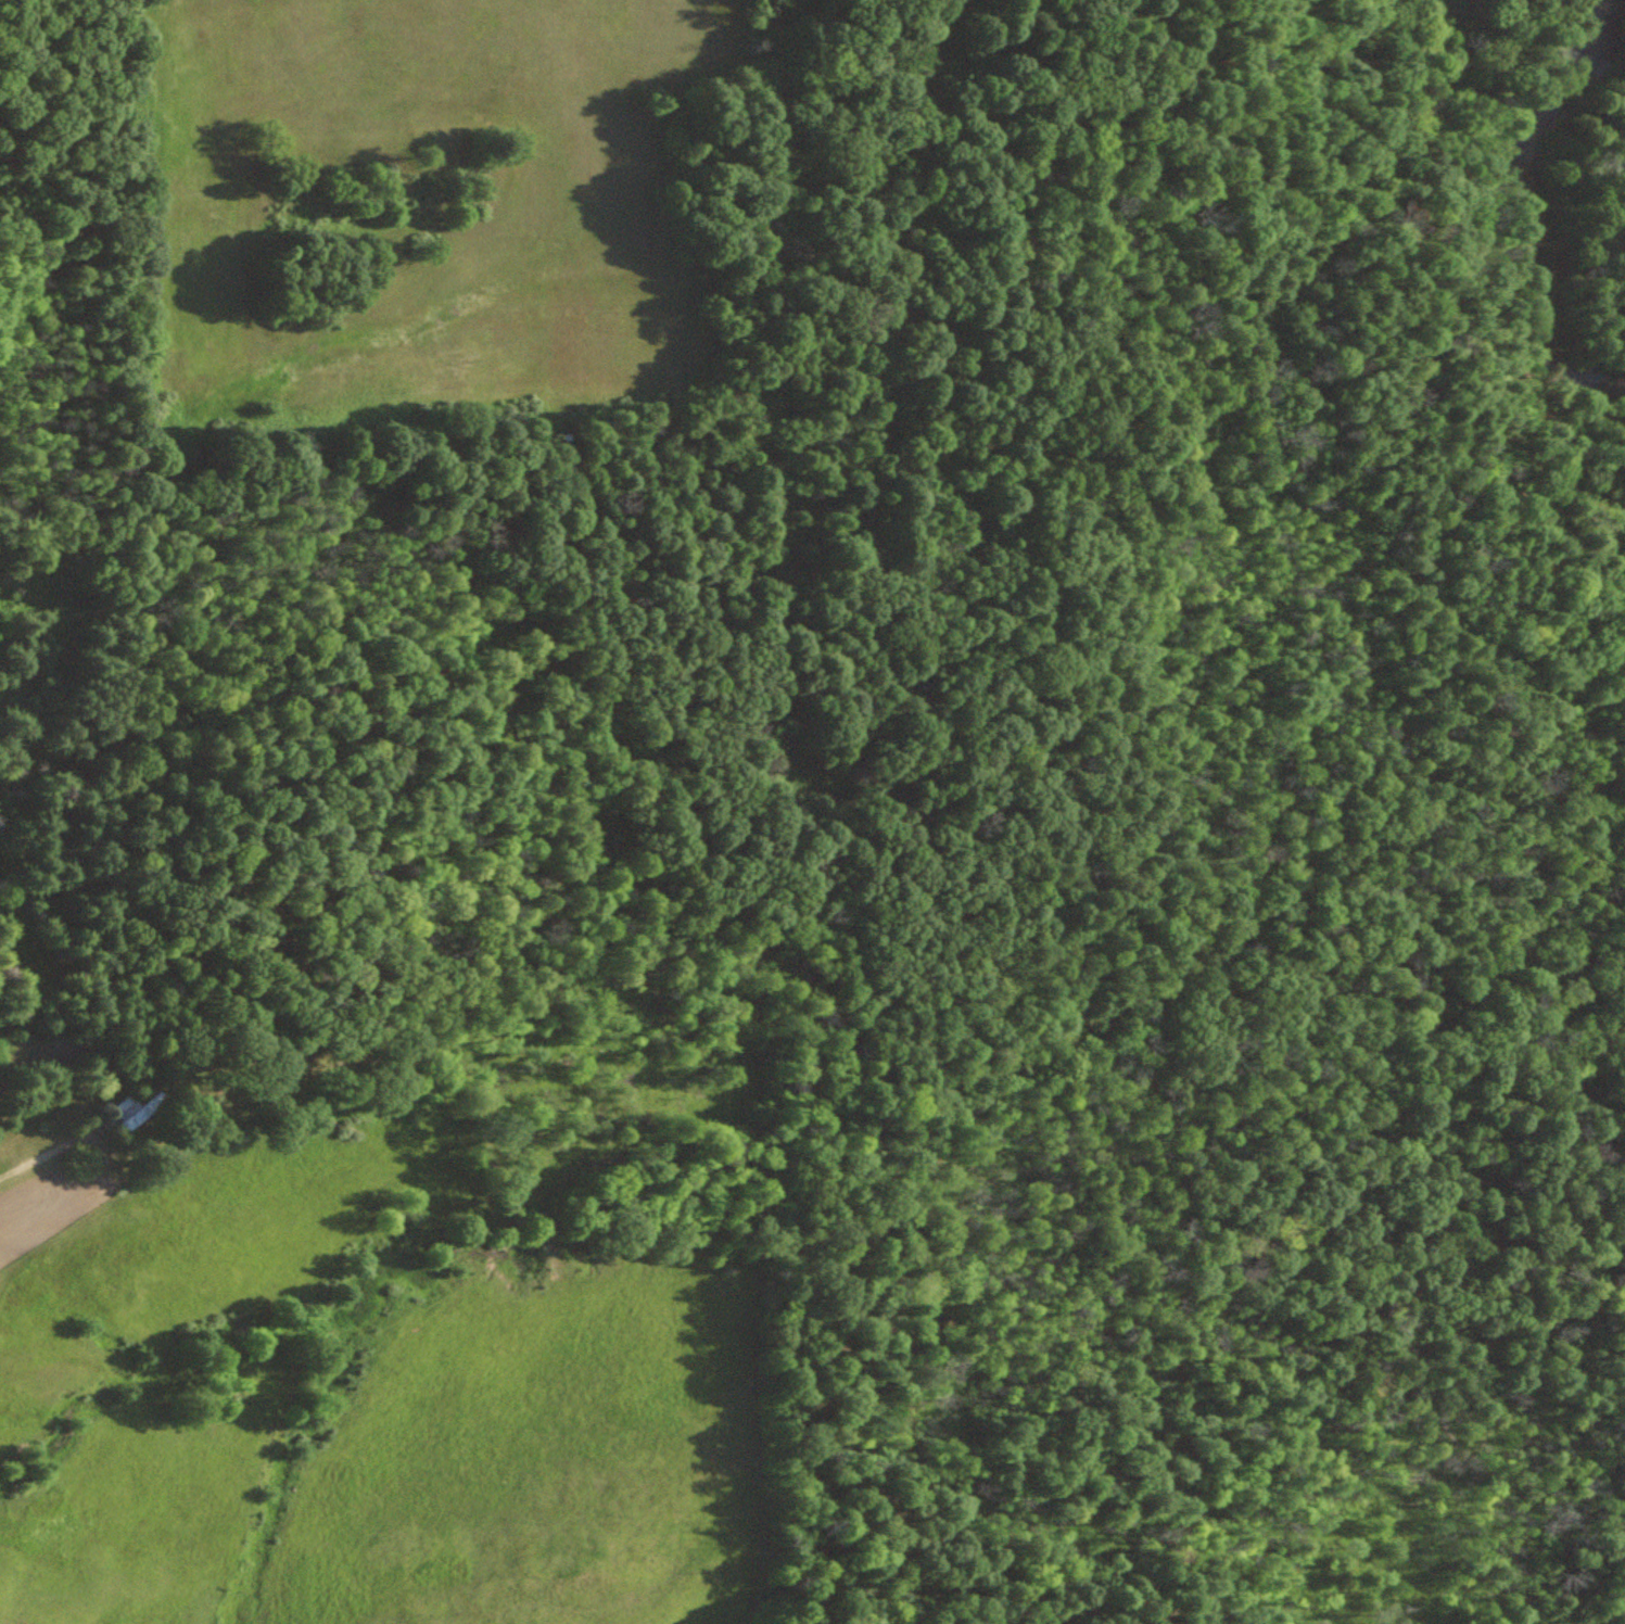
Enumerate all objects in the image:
river: (1522, 221)
building: (126, 1112)

